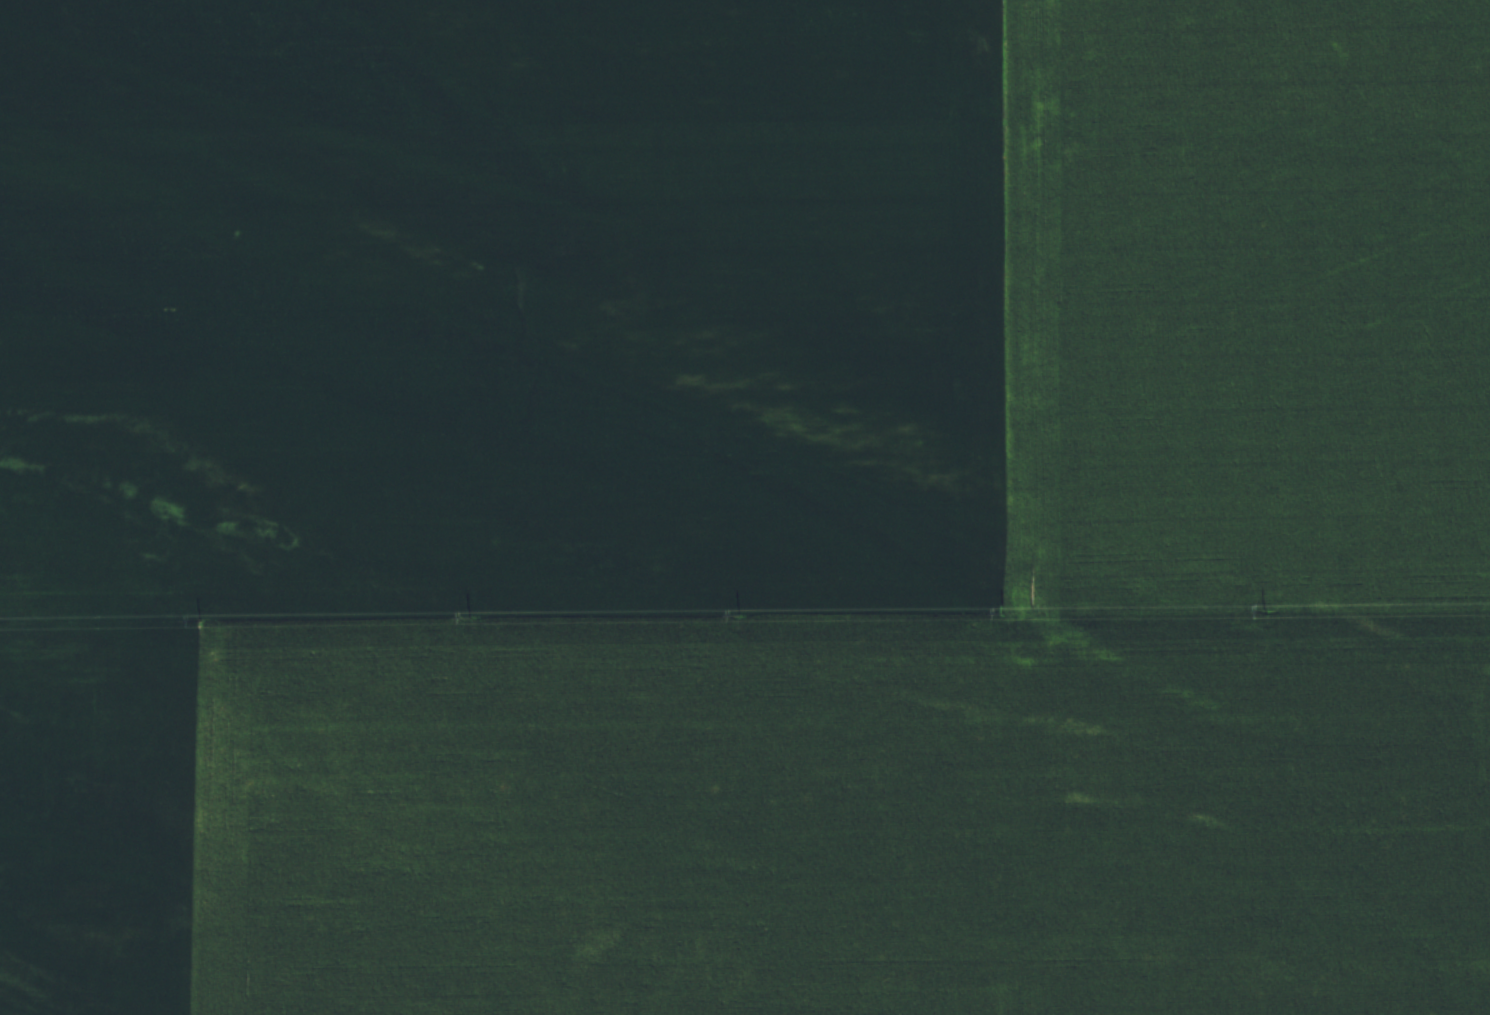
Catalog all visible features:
power tower: (1265, 611)
power tower: (1006, 612)
power tower: (739, 615)
power tower: (470, 618)
power tower: (200, 620)

